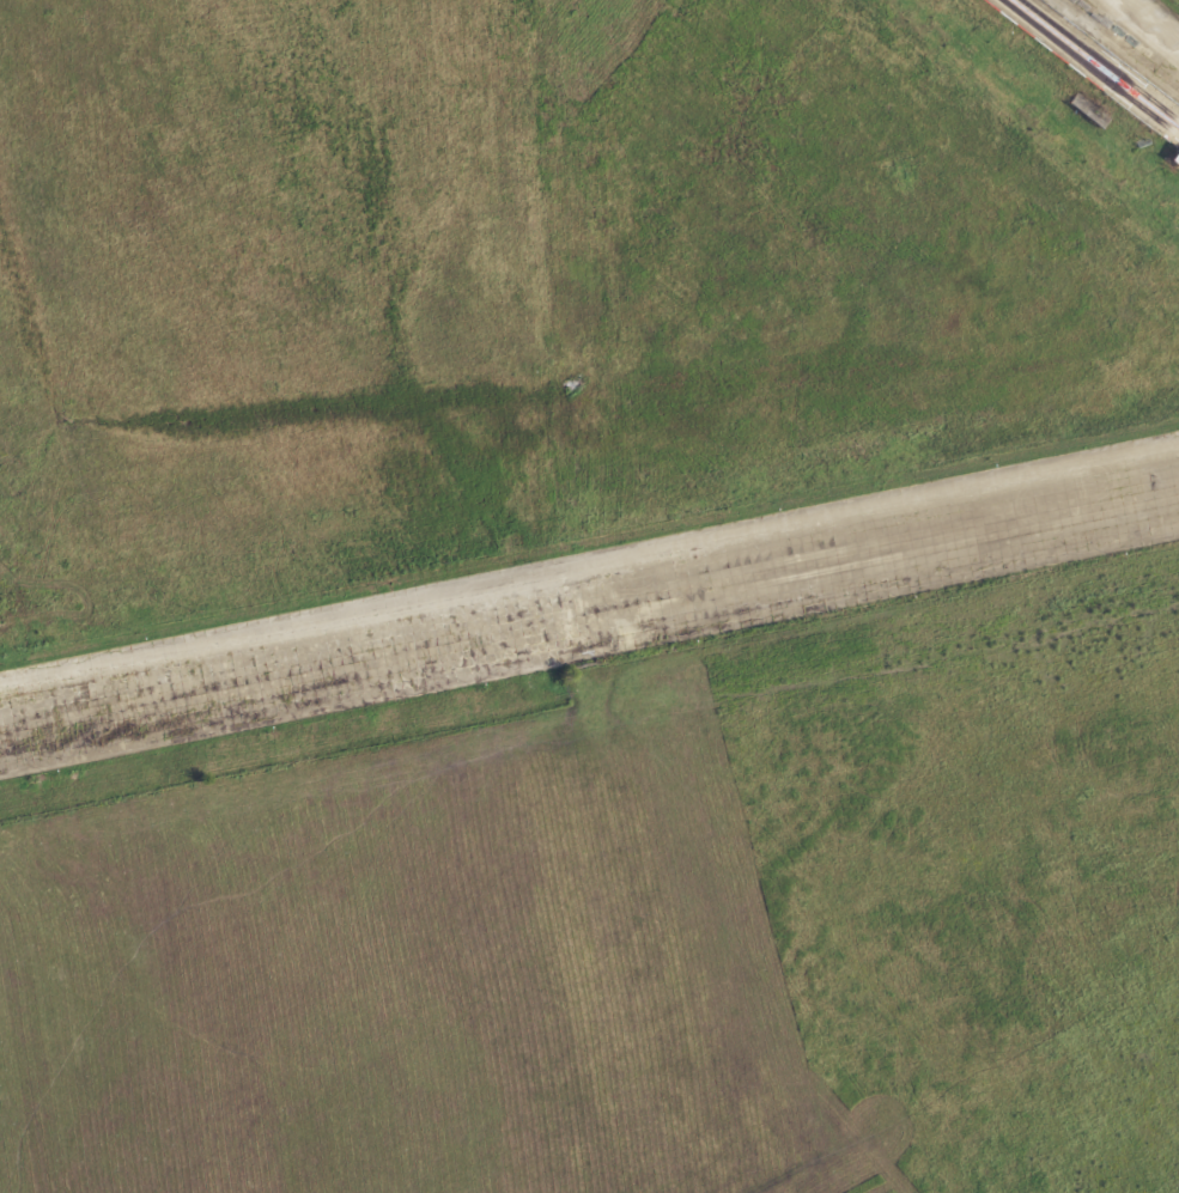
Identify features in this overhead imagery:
raceway: (1100, 59)
raceway: (1089, 68)

